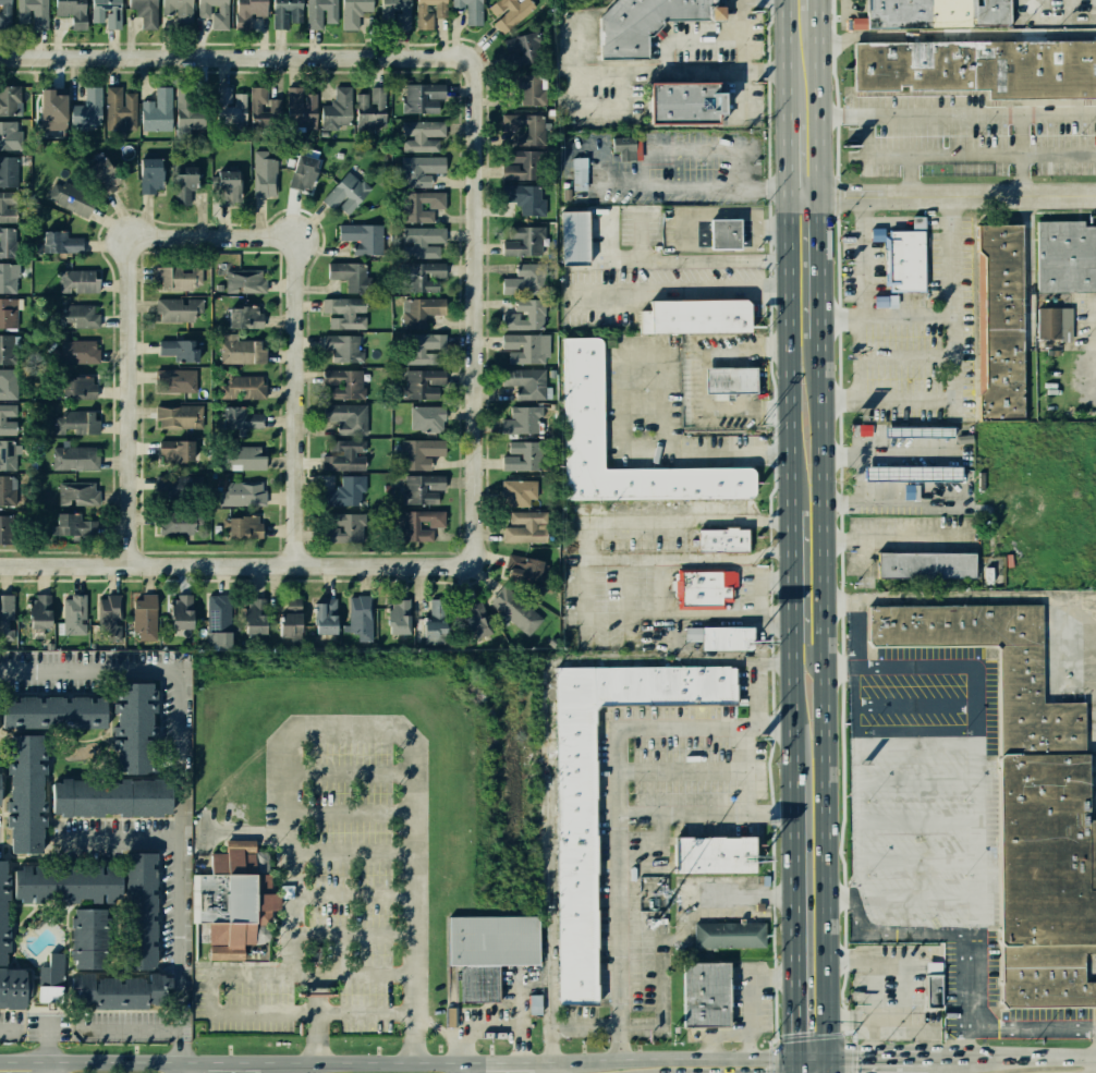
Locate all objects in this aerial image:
road: (1027, 5)
building: (69, 8)
building: (470, 10)
building: (32, 11)
building: (144, 11)
building: (247, 11)
building: (106, 12)
building: (176, 12)
building: (215, 12)
building: (285, 12)
building: (321, 12)
building: (353, 12)
building: (395, 12)
building: (428, 12)
building: (508, 12)
building: (5, 13)
building: (933, 13)
road: (833, 15)
building: (640, 22)
road: (768, 35)
road: (954, 35)
road: (833, 44)
road: (667, 46)
building: (519, 48)
road: (575, 48)
road: (240, 53)
road: (743, 53)
building: (981, 66)
road: (726, 71)
road: (769, 71)
road: (836, 81)
building: (524, 88)
road: (975, 93)
building: (422, 99)
building: (10, 100)
road: (851, 100)
building: (677, 101)
building: (187, 107)
building: (119, 108)
building: (263, 108)
road: (599, 108)
building: (338, 109)
building: (85, 110)
building: (300, 110)
road: (851, 110)
building: (156, 111)
building: (50, 112)
building: (232, 112)
building: (369, 112)
road: (970, 112)
road: (831, 113)
road: (837, 115)
road: (1001, 117)
road: (1040, 117)
road: (1079, 118)
building: (523, 127)
road: (769, 129)
building: (11, 134)
building: (421, 135)
building: (628, 148)
road: (672, 150)
road: (837, 151)
road: (1021, 151)
road: (960, 155)
building: (521, 164)
building: (9, 170)
building: (421, 172)
building: (302, 173)
building: (580, 173)
building: (101, 174)
building: (149, 174)
building: (263, 174)
road: (914, 174)
road: (692, 186)
road: (769, 187)
building: (182, 188)
building: (226, 188)
road: (940, 192)
building: (345, 193)
building: (70, 196)
road: (837, 197)
building: (524, 199)
building: (9, 205)
building: (418, 208)
road: (769, 208)
road: (738, 214)
road: (906, 222)
road: (769, 230)
road: (750, 233)
road: (609, 234)
road: (698, 234)
building: (727, 234)
road: (217, 235)
road: (641, 235)
building: (362, 237)
building: (574, 237)
building: (423, 241)
building: (525, 241)
building: (7, 242)
building: (60, 242)
road: (770, 247)
road: (862, 255)
building: (1065, 256)
road: (697, 260)
road: (769, 260)
road: (839, 260)
building: (906, 263)
road: (769, 272)
building: (350, 273)
building: (9, 276)
building: (422, 277)
building: (178, 278)
building: (77, 280)
building: (523, 280)
building: (242, 281)
road: (716, 288)
road: (770, 290)
road: (612, 298)
road: (1030, 304)
building: (178, 309)
road: (482, 309)
building: (421, 312)
building: (9, 313)
building: (344, 313)
building: (76, 316)
building: (243, 316)
building: (524, 316)
building: (696, 317)
road: (886, 317)
road: (770, 319)
road: (840, 319)
building: (996, 322)
building: (1054, 324)
building: (344, 346)
building: (423, 347)
building: (525, 347)
road: (770, 347)
building: (7, 349)
building: (179, 349)
building: (240, 351)
road: (747, 351)
building: (78, 352)
road: (906, 355)
road: (840, 359)
road: (624, 363)
road: (1067, 369)
road: (772, 378)
building: (730, 379)
building: (175, 381)
building: (8, 382)
building: (344, 382)
building: (423, 383)
building: (525, 383)
road: (953, 383)
building: (77, 387)
building: (242, 387)
road: (135, 399)
road: (299, 400)
road: (840, 400)
road: (840, 400)
building: (583, 405)
road: (746, 407)
road: (775, 411)
building: (178, 415)
building: (239, 417)
building: (346, 417)
building: (8, 418)
building: (426, 419)
building: (521, 419)
building: (75, 423)
road: (840, 429)
building: (915, 430)
road: (775, 434)
building: (174, 451)
building: (419, 452)
road: (731, 452)
building: (5, 453)
building: (344, 454)
road: (840, 454)
road: (775, 455)
building: (74, 456)
building: (523, 456)
building: (240, 458)
building: (35, 463)
building: (900, 473)
road: (964, 477)
road: (841, 479)
building: (173, 487)
building: (423, 489)
building: (4, 490)
road: (772, 490)
building: (344, 491)
building: (519, 491)
building: (77, 492)
building: (242, 493)
road: (842, 503)
building: (178, 521)
road: (770, 521)
road: (842, 523)
building: (349, 524)
building: (419, 524)
building: (242, 525)
building: (70, 526)
building: (526, 527)
building: (1, 528)
building: (327, 535)
road: (789, 536)
road: (821, 536)
road: (770, 537)
road: (889, 538)
road: (588, 539)
building: (718, 539)
road: (842, 541)
road: (770, 551)
road: (865, 556)
road: (241, 563)
road: (770, 564)
building: (923, 565)
building: (528, 569)
road: (625, 569)
road: (842, 571)
road: (770, 581)
road: (757, 583)
building: (702, 588)
road: (625, 592)
road: (770, 597)
road: (960, 599)
road: (842, 603)
building: (143, 606)
building: (38, 609)
building: (513, 610)
building: (73, 614)
road: (689, 614)
building: (253, 615)
building: (322, 615)
building: (361, 615)
building: (7, 617)
building: (108, 617)
building: (178, 617)
building: (217, 617)
building: (398, 617)
building: (287, 618)
road: (771, 619)
building: (435, 622)
building: (474, 622)
road: (625, 627)
road: (587, 629)
road: (857, 635)
road: (842, 636)
building: (727, 638)
building: (218, 641)
road: (805, 643)
road: (771, 645)
road: (738, 660)
road: (772, 662)
road: (842, 669)
road: (772, 692)
road: (756, 694)
road: (917, 702)
building: (60, 708)
road: (977, 715)
road: (772, 726)
road: (349, 727)
building: (139, 728)
road: (916, 743)
road: (685, 770)
road: (751, 770)
road: (768, 770)
road: (348, 772)
road: (180, 776)
road: (287, 777)
road: (916, 780)
road: (843, 783)
road: (856, 783)
building: (1, 787)
building: (31, 791)
building: (114, 796)
building: (1026, 801)
road: (619, 808)
road: (348, 813)
road: (705, 814)
road: (772, 814)
road: (916, 821)
road: (124, 839)
road: (660, 840)
road: (348, 849)
road: (772, 855)
building: (579, 856)
building: (714, 856)
road: (916, 859)
road: (551, 861)
road: (288, 874)
building: (66, 880)
road: (287, 881)
parking lot: (341, 883)
road: (348, 890)
road: (410, 890)
road: (741, 895)
road: (774, 895)
road: (844, 897)
road: (901, 898)
building: (230, 901)
building: (139, 910)
building: (4, 915)
road: (275, 917)
road: (845, 927)
building: (89, 934)
road: (898, 934)
road: (349, 936)
road: (774, 936)
building: (728, 938)
fountain: (314, 952)
building: (488, 952)
road: (845, 959)
building: (52, 971)
road: (362, 973)
road: (775, 977)
road: (902, 977)
road: (314, 983)
building: (934, 985)
building: (15, 987)
road: (873, 987)
building: (122, 990)
road: (842, 990)
building: (50, 993)
building: (705, 996)
road: (745, 998)
road: (967, 998)
road: (515, 1001)
road: (207, 1007)
road: (363, 1012)
road: (661, 1013)
road: (775, 1017)
road: (863, 1020)
road: (845, 1021)
road: (435, 1026)
road: (1032, 1026)
road: (585, 1027)
road: (8, 1029)
road: (129, 1029)
road: (316, 1029)
road: (491, 1029)
road: (853, 1032)
road: (715, 1035)
road: (808, 1037)
road: (51, 1044)
road: (926, 1045)
road: (854, 1058)
road: (771, 1059)
road: (497, 1060)
road: (678, 1060)
traffic signals: (793, 1060)
traffic signals: (825, 1060)
road: (849, 1060)
road: (984, 1060)
road: (386, 1061)
road: (246, 1062)
road: (92, 1063)
road: (463, 1066)
road: (181, 1068)
road: (186, 1068)
road: (51, 1069)

